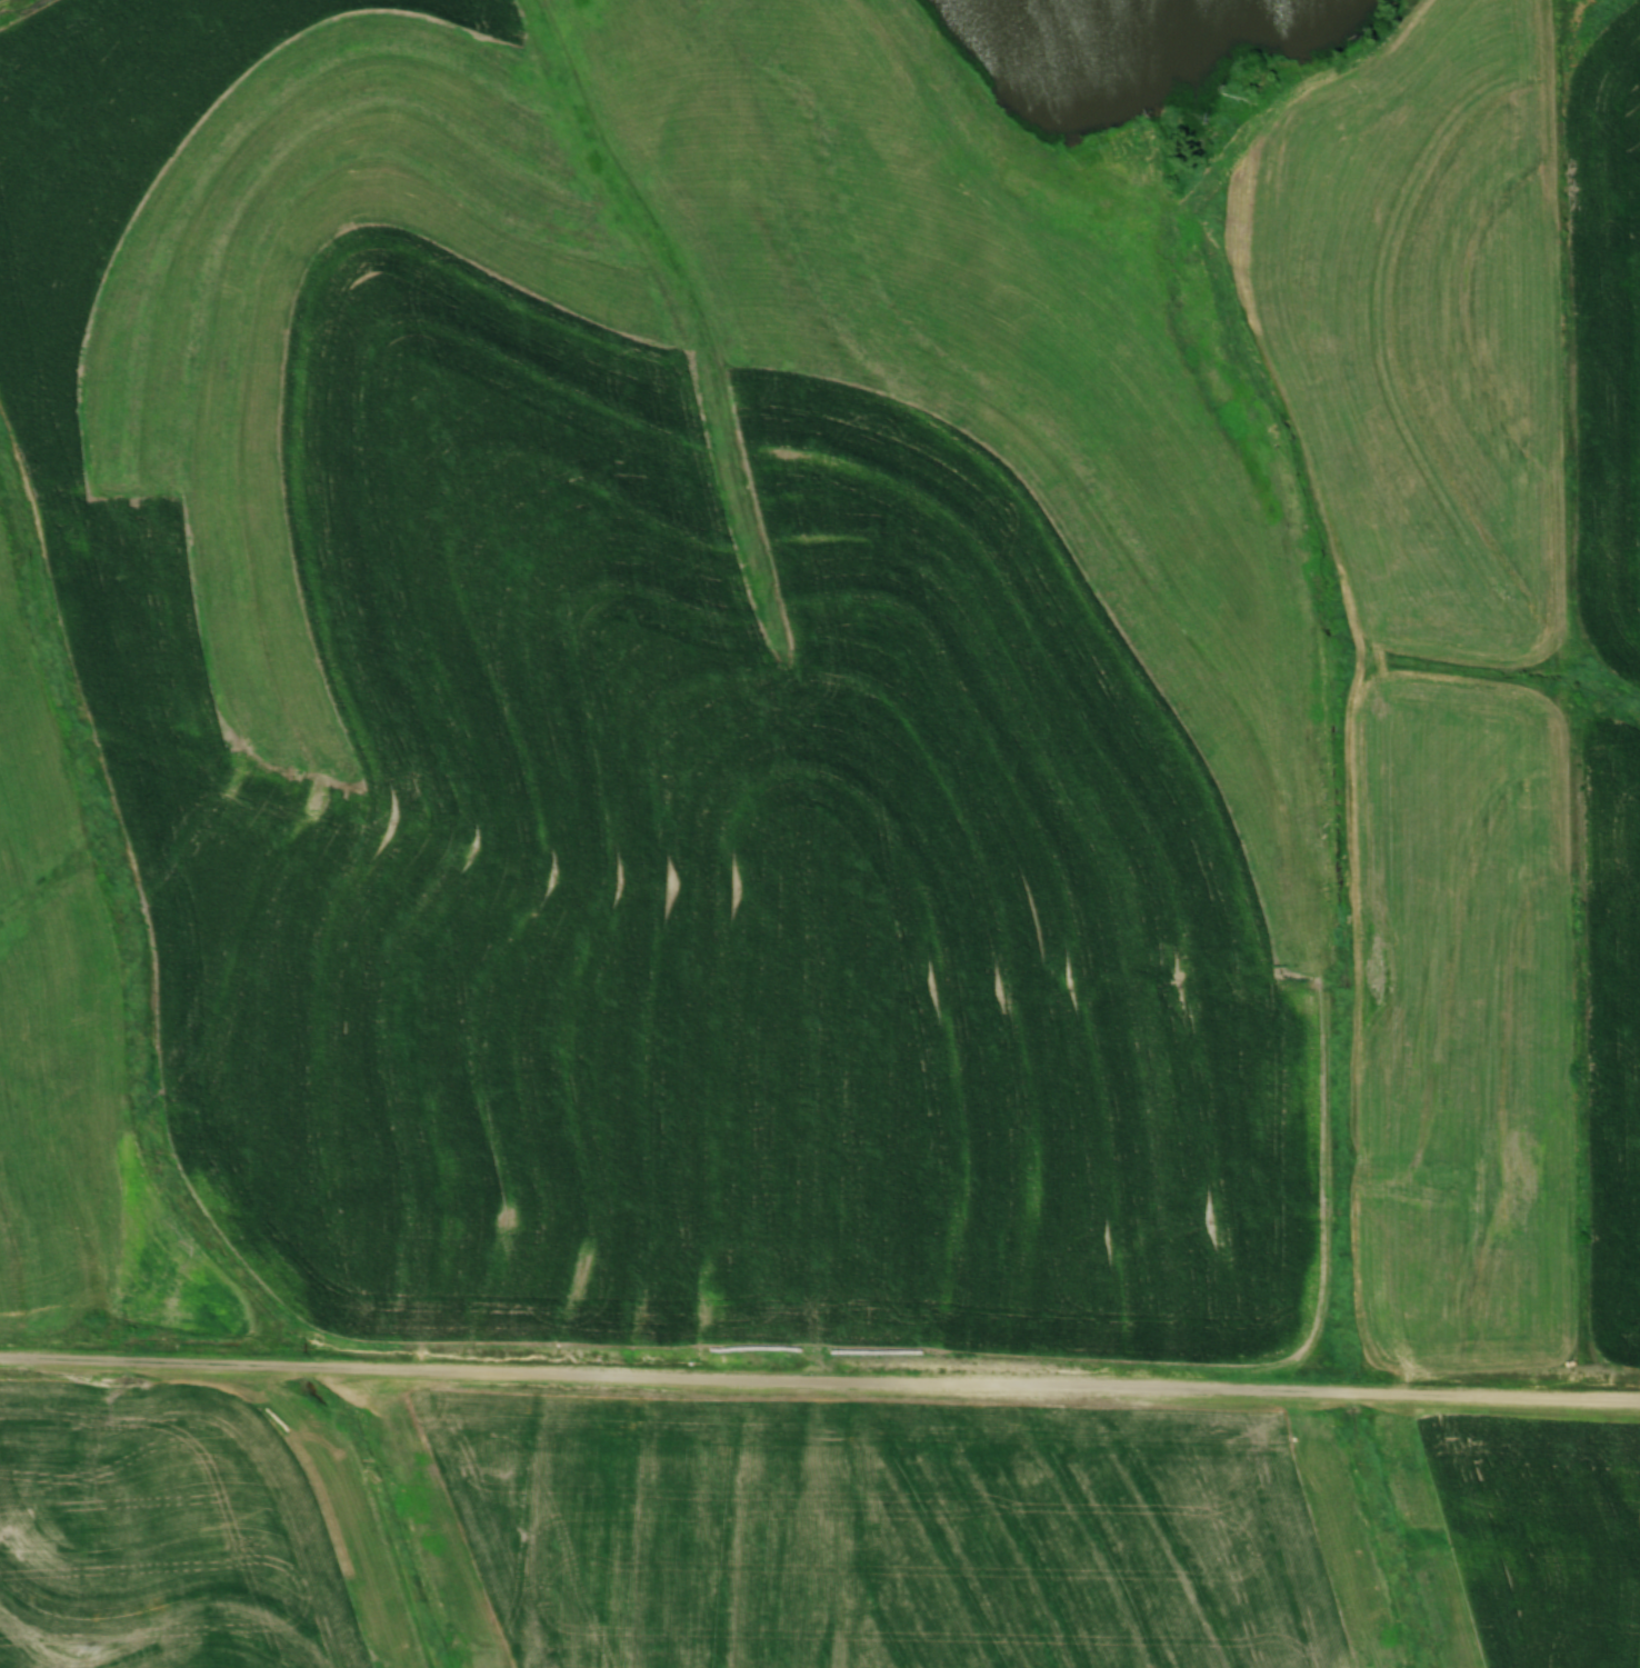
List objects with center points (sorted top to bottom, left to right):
road: (819, 1384)

